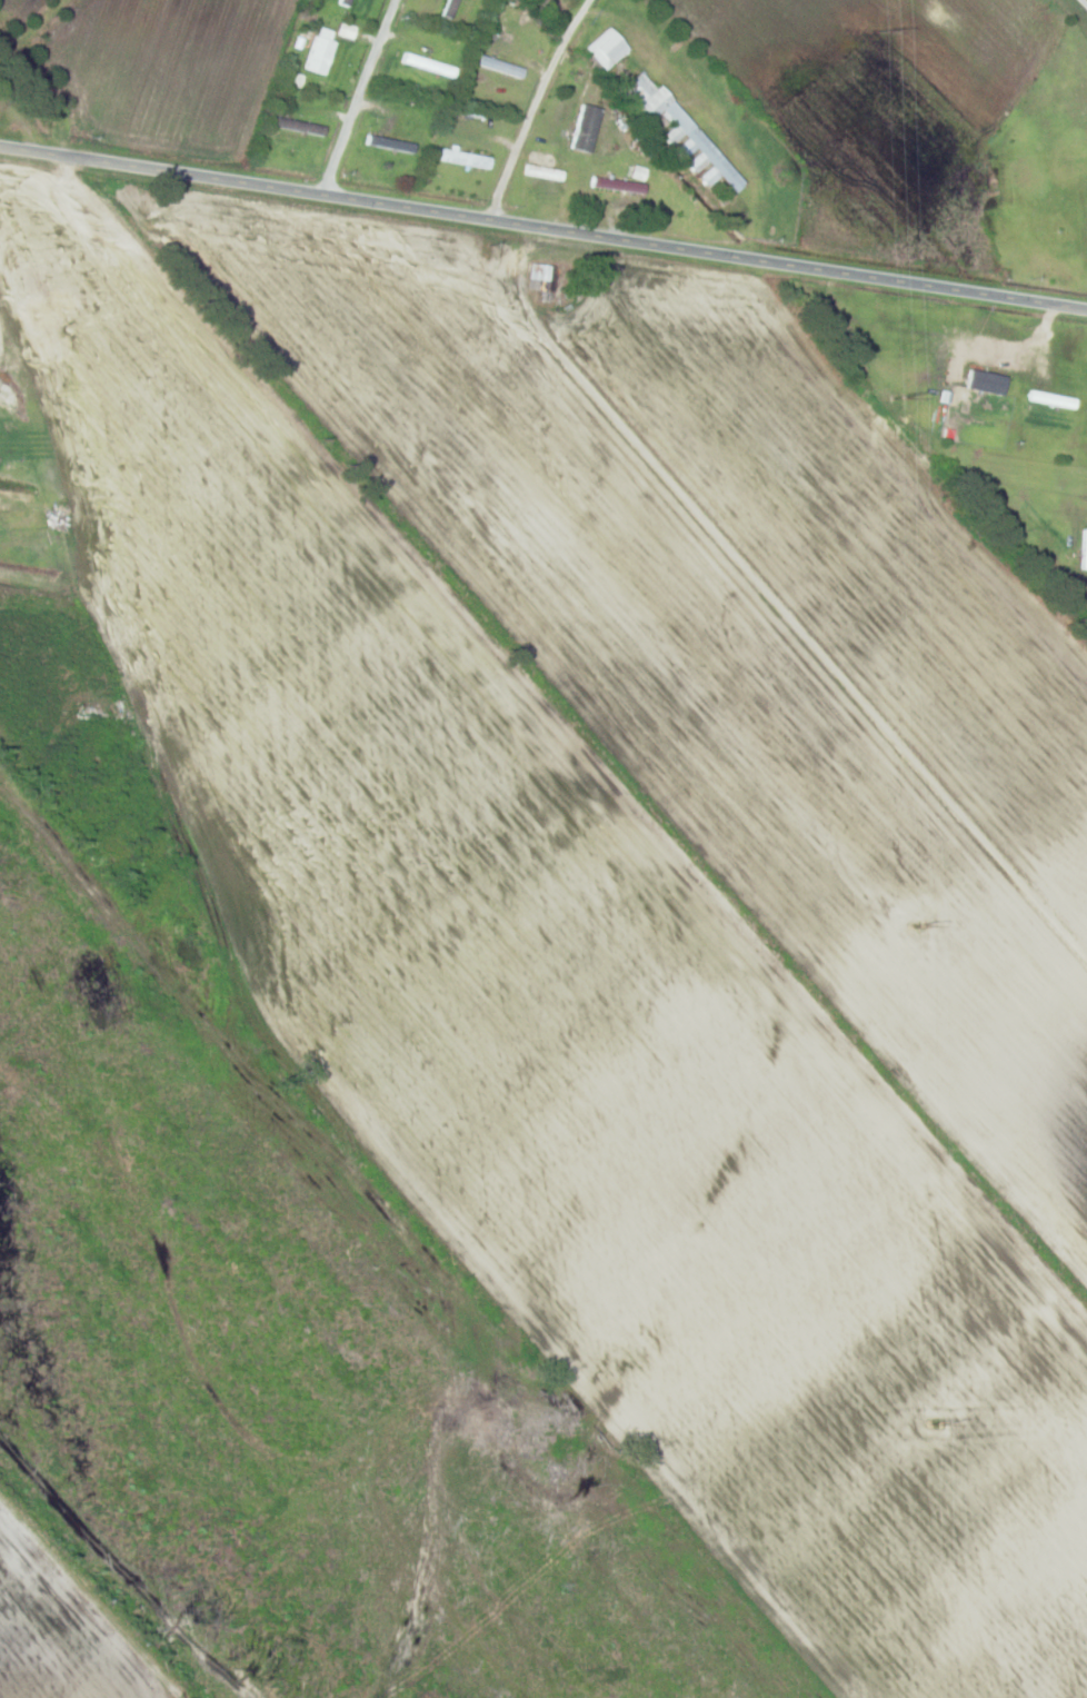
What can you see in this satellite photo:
building: (346, 2)
building: (448, 9)
road: (1078, 9)
power tower: (889, 29)
building: (608, 48)
building: (321, 56)
building: (431, 64)
building: (502, 66)
road: (536, 102)
building: (587, 128)
building: (681, 131)
building: (391, 143)
building: (465, 158)
building: (543, 172)
building: (619, 185)
road: (543, 226)
building: (543, 277)
power tower: (900, 394)
building: (1084, 548)
power tower: (919, 925)
power tower: (937, 1420)

